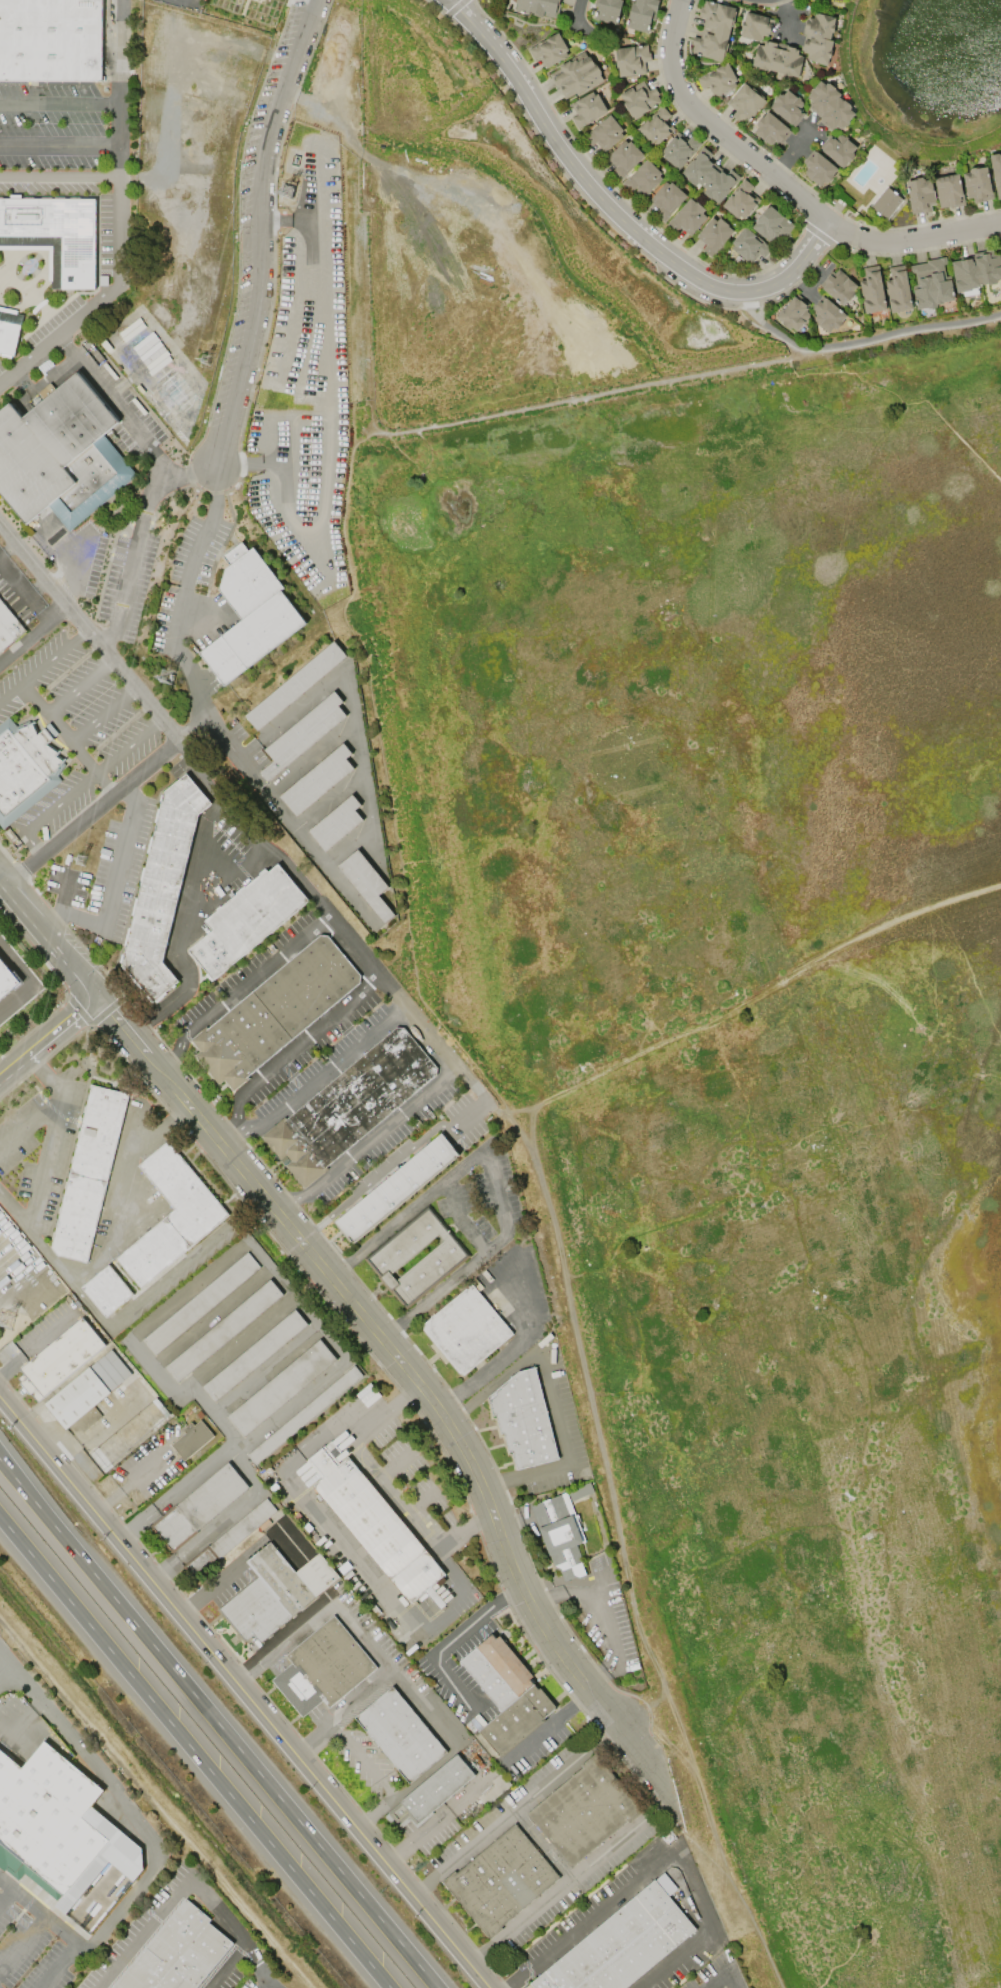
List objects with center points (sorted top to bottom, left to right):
building: (538, 7)
building: (606, 10)
building: (640, 14)
road: (575, 15)
building: (755, 26)
building: (713, 30)
building: (818, 37)
building: (50, 41)
building: (549, 50)
road: (120, 51)
building: (777, 57)
building: (631, 60)
building: (575, 74)
building: (717, 79)
building: (639, 99)
building: (744, 103)
building: (828, 106)
building: (787, 107)
building: (587, 109)
road: (319, 111)
road: (119, 122)
building: (656, 127)
building: (770, 129)
building: (604, 134)
building: (679, 150)
building: (838, 150)
building: (624, 158)
building: (818, 168)
building: (996, 172)
road: (59, 175)
building: (709, 176)
building: (643, 178)
building: (976, 185)
road: (782, 189)
building: (948, 191)
building: (920, 195)
power tower: (277, 199)
building: (667, 199)
building: (740, 200)
building: (886, 203)
road: (118, 212)
road: (612, 212)
building: (688, 217)
building: (771, 225)
road: (257, 232)
building: (54, 235)
building: (714, 235)
building: (748, 246)
building: (976, 271)
building: (930, 284)
building: (838, 287)
building: (871, 290)
building: (897, 290)
building: (793, 313)
building: (826, 315)
building: (8, 330)
road: (59, 331)
road: (856, 345)
power tower: (204, 359)
road: (384, 433)
building: (60, 455)
road: (154, 467)
road: (7, 544)
road: (76, 553)
road: (32, 602)
building: (250, 617)
building: (9, 627)
road: (106, 636)
road: (23, 638)
road: (43, 662)
road: (80, 682)
power tower: (153, 684)
building: (294, 686)
road: (105, 712)
road: (205, 714)
road: (58, 726)
building: (302, 734)
road: (230, 741)
road: (128, 744)
building: (24, 767)
building: (317, 781)
road: (104, 782)
road: (223, 797)
road: (48, 811)
building: (336, 824)
road: (197, 848)
power tower: (79, 860)
road: (115, 873)
building: (366, 883)
building: (166, 890)
road: (60, 902)
building: (251, 922)
road: (179, 934)
road: (48, 938)
road: (16, 963)
building: (6, 979)
road: (237, 985)
road: (64, 986)
road: (16, 997)
traffic signals: (95, 998)
building: (280, 1013)
road: (47, 1037)
road: (290, 1049)
road: (323, 1071)
building: (349, 1105)
road: (33, 1115)
road: (369, 1139)
road: (410, 1144)
building: (89, 1173)
building: (395, 1188)
road: (500, 1205)
road: (409, 1212)
building: (172, 1216)
road: (16, 1217)
building: (417, 1257)
road: (463, 1267)
road: (65, 1277)
road: (165, 1277)
building: (107, 1290)
road: (176, 1296)
building: (200, 1303)
road: (210, 1315)
building: (223, 1330)
building: (467, 1330)
road: (244, 1341)
road: (511, 1347)
building: (254, 1355)
building: (60, 1358)
road: (266, 1368)
road: (418, 1373)
building: (282, 1388)
building: (87, 1392)
road: (551, 1396)
road: (386, 1408)
building: (304, 1416)
building: (523, 1418)
building: (191, 1439)
road: (397, 1462)
road: (128, 1477)
building: (580, 1491)
road: (424, 1499)
building: (199, 1507)
road: (224, 1518)
road: (327, 1525)
building: (375, 1525)
building: (560, 1534)
building: (229, 1539)
road: (239, 1558)
building: (275, 1593)
road: (604, 1609)
road: (346, 1619)
road: (452, 1639)
building: (323, 1668)
road: (245, 1691)
building: (504, 1692)
road: (550, 1723)
road: (218, 1724)
building: (400, 1735)
road: (447, 1738)
road: (315, 1739)
road: (194, 1753)
road: (365, 1761)
building: (494, 1789)
building: (430, 1792)
building: (584, 1812)
road: (377, 1813)
road: (436, 1819)
road: (501, 1821)
road: (139, 1823)
building: (62, 1837)
road: (658, 1859)
road: (189, 1875)
building: (500, 1880)
road: (557, 1892)
road: (5, 1893)
road: (38, 1910)
road: (22, 1941)
building: (623, 1944)
building: (176, 1952)
road: (255, 1960)
road: (726, 1970)
road: (267, 1981)
road: (713, 1985)

